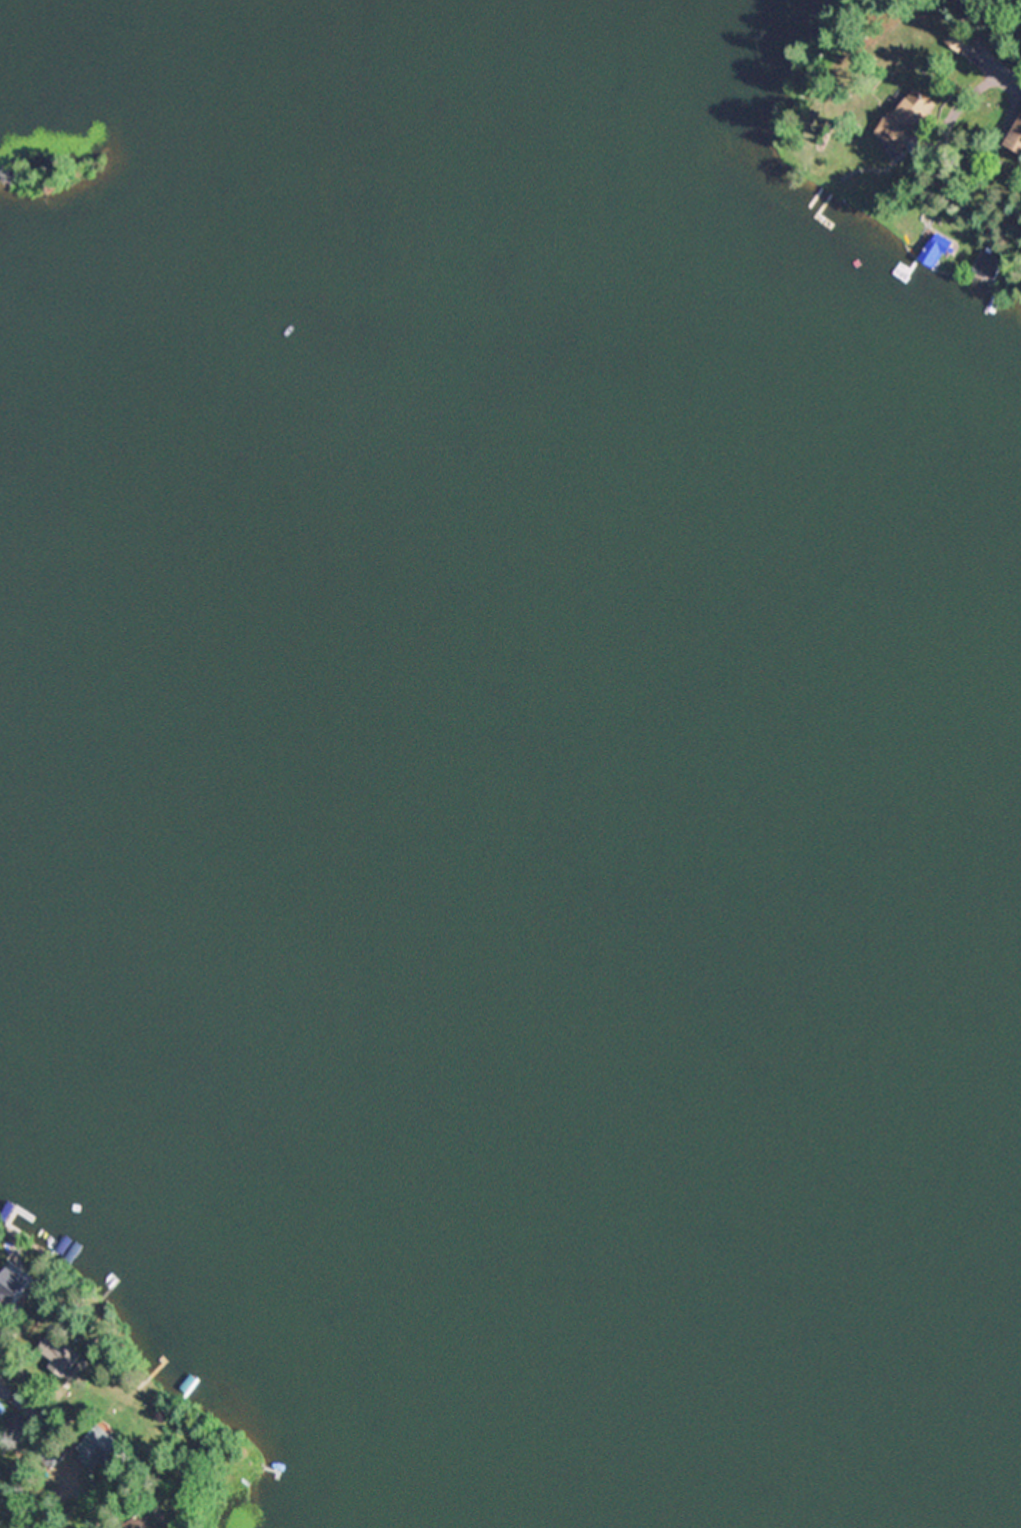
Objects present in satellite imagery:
building: (965, 4)
building: (962, 37)
road: (1012, 75)
building: (1020, 113)
building: (910, 124)
building: (1016, 139)
building: (938, 249)
building: (990, 265)
building: (17, 1285)
building: (61, 1354)
building: (18, 1428)
building: (105, 1447)
building: (57, 1457)
building: (98, 1493)
building: (141, 1521)

